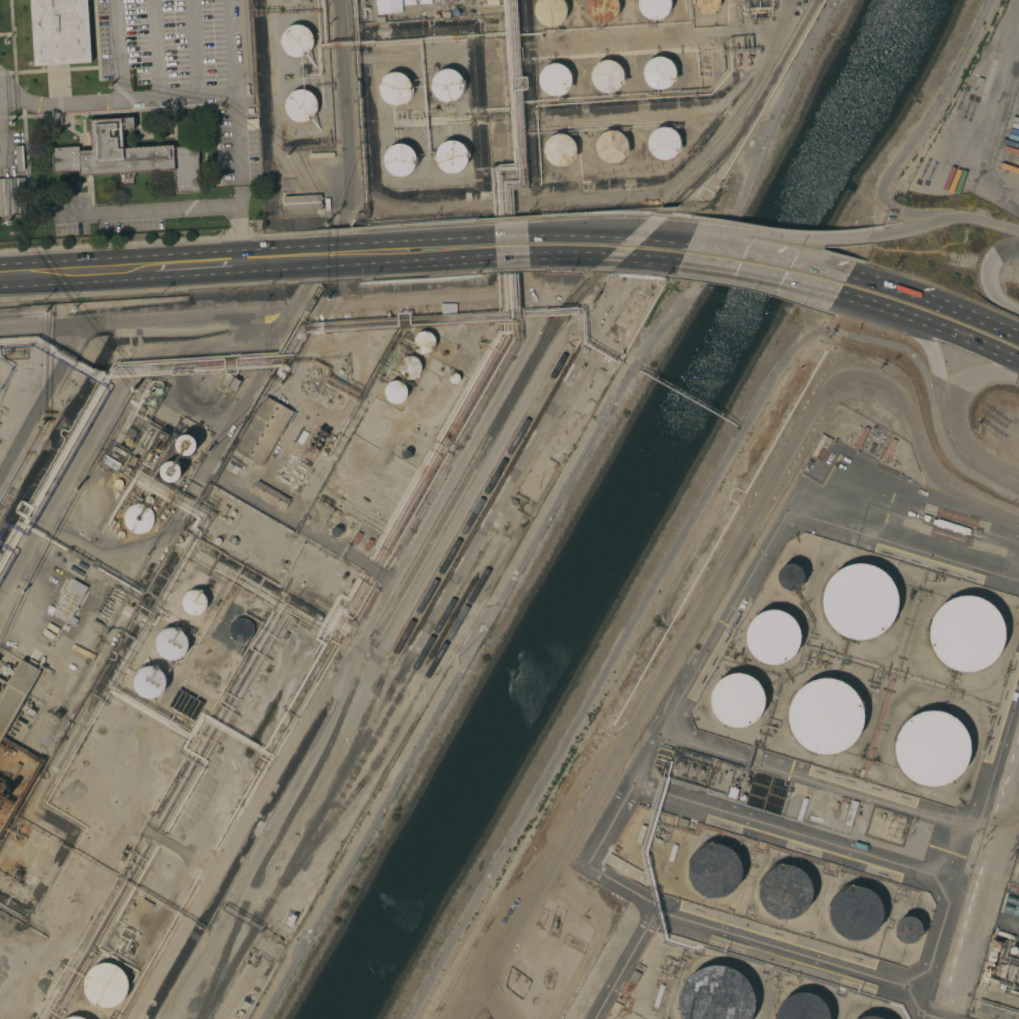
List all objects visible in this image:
building: (392, 4)
building: (413, 4)
building: (706, 5)
building: (653, 8)
building: (602, 10)
building: (548, 12)
building: (60, 31)
building: (296, 41)
road: (230, 47)
road: (195, 48)
road: (153, 50)
road: (114, 51)
building: (659, 72)
building: (606, 75)
building: (553, 80)
building: (977, 81)
building: (446, 85)
building: (394, 88)
road: (111, 103)
building: (300, 104)
railway: (755, 112)
building: (662, 143)
road: (1, 144)
building: (609, 147)
road: (236, 149)
building: (558, 149)
building: (234, 150)
building: (127, 156)
building: (451, 156)
building: (18, 157)
building: (398, 160)
building: (12, 196)
building: (302, 202)
road: (178, 208)
road: (942, 219)
road: (608, 233)
road: (509, 236)
road: (777, 236)
road: (444, 239)
road: (769, 253)
road: (322, 256)
road: (602, 257)
road: (510, 258)
road: (446, 261)
road: (185, 264)
road: (63, 271)
road: (757, 274)
road: (988, 276)
road: (934, 301)
road: (928, 324)
building: (422, 342)
road: (932, 356)
building: (409, 365)
building: (281, 370)
building: (315, 371)
road: (974, 375)
building: (453, 376)
building: (230, 382)
building: (304, 387)
building: (157, 391)
building: (394, 391)
building: (151, 402)
storage tank: (319, 427)
building: (263, 431)
storage tank: (325, 431)
storage tank: (315, 432)
storage tank: (322, 436)
building: (160, 439)
storage tank: (312, 439)
building: (129, 442)
storage tank: (319, 442)
building: (184, 444)
storage tank: (309, 444)
storage tank: (315, 447)
building: (820, 447)
storage tank: (306, 449)
storage tank: (313, 452)
building: (405, 454)
storage tank: (304, 455)
road: (971, 457)
storage tank: (310, 458)
building: (246, 460)
storage tank: (300, 460)
storage tank: (307, 463)
building: (243, 464)
storage tank: (297, 465)
building: (234, 469)
storage tank: (303, 469)
building: (170, 471)
storage tank: (294, 471)
storage tank: (301, 475)
storage tank: (291, 476)
storage tank: (297, 480)
storage tank: (288, 482)
building: (117, 483)
storage tank: (294, 485)
building: (269, 495)
building: (137, 496)
building: (148, 500)
building: (513, 502)
road: (698, 509)
building: (224, 510)
building: (165, 511)
road: (550, 511)
building: (162, 517)
building: (136, 518)
building: (951, 526)
building: (334, 532)
building: (499, 533)
building: (120, 534)
road: (905, 539)
building: (216, 541)
railway: (440, 574)
building: (303, 577)
building: (790, 577)
storage tank: (790, 577)
road: (711, 584)
building: (318, 587)
building: (70, 602)
building: (194, 602)
building: (858, 602)
storage tank: (858, 602)
building: (95, 624)
building: (240, 629)
building: (965, 631)
storage tank: (965, 631)
railway: (379, 634)
building: (771, 636)
storage tank: (771, 636)
building: (170, 644)
building: (290, 658)
building: (70, 666)
building: (149, 681)
building: (274, 687)
railway: (393, 688)
building: (16, 690)
building: (736, 700)
storage tank: (736, 700)
building: (180, 701)
railway: (397, 702)
building: (194, 709)
building: (825, 717)
storage tank: (825, 717)
railway: (392, 739)
building: (930, 747)
storage tank: (930, 747)
building: (746, 782)
building: (7, 791)
building: (741, 797)
building: (801, 809)
building: (844, 812)
building: (851, 813)
building: (682, 822)
building: (672, 852)
power substation: (1014, 867)
building: (712, 870)
storage tank: (712, 870)
road: (983, 883)
building: (784, 891)
storage tank: (784, 891)
building: (146, 904)
building: (854, 909)
storage tank: (854, 909)
building: (1010, 925)
building: (907, 929)
storage tank: (907, 929)
building: (1004, 934)
building: (993, 950)
building: (1012, 950)
power plant: (1001, 968)
building: (634, 976)
building: (106, 985)
building: (715, 994)
storage tank: (715, 994)
building: (658, 995)
building: (802, 1008)
storage tank: (802, 1008)
building: (74, 1017)
building: (867, 1018)
storage tank: (867, 1018)
building: (1018, 1018)

